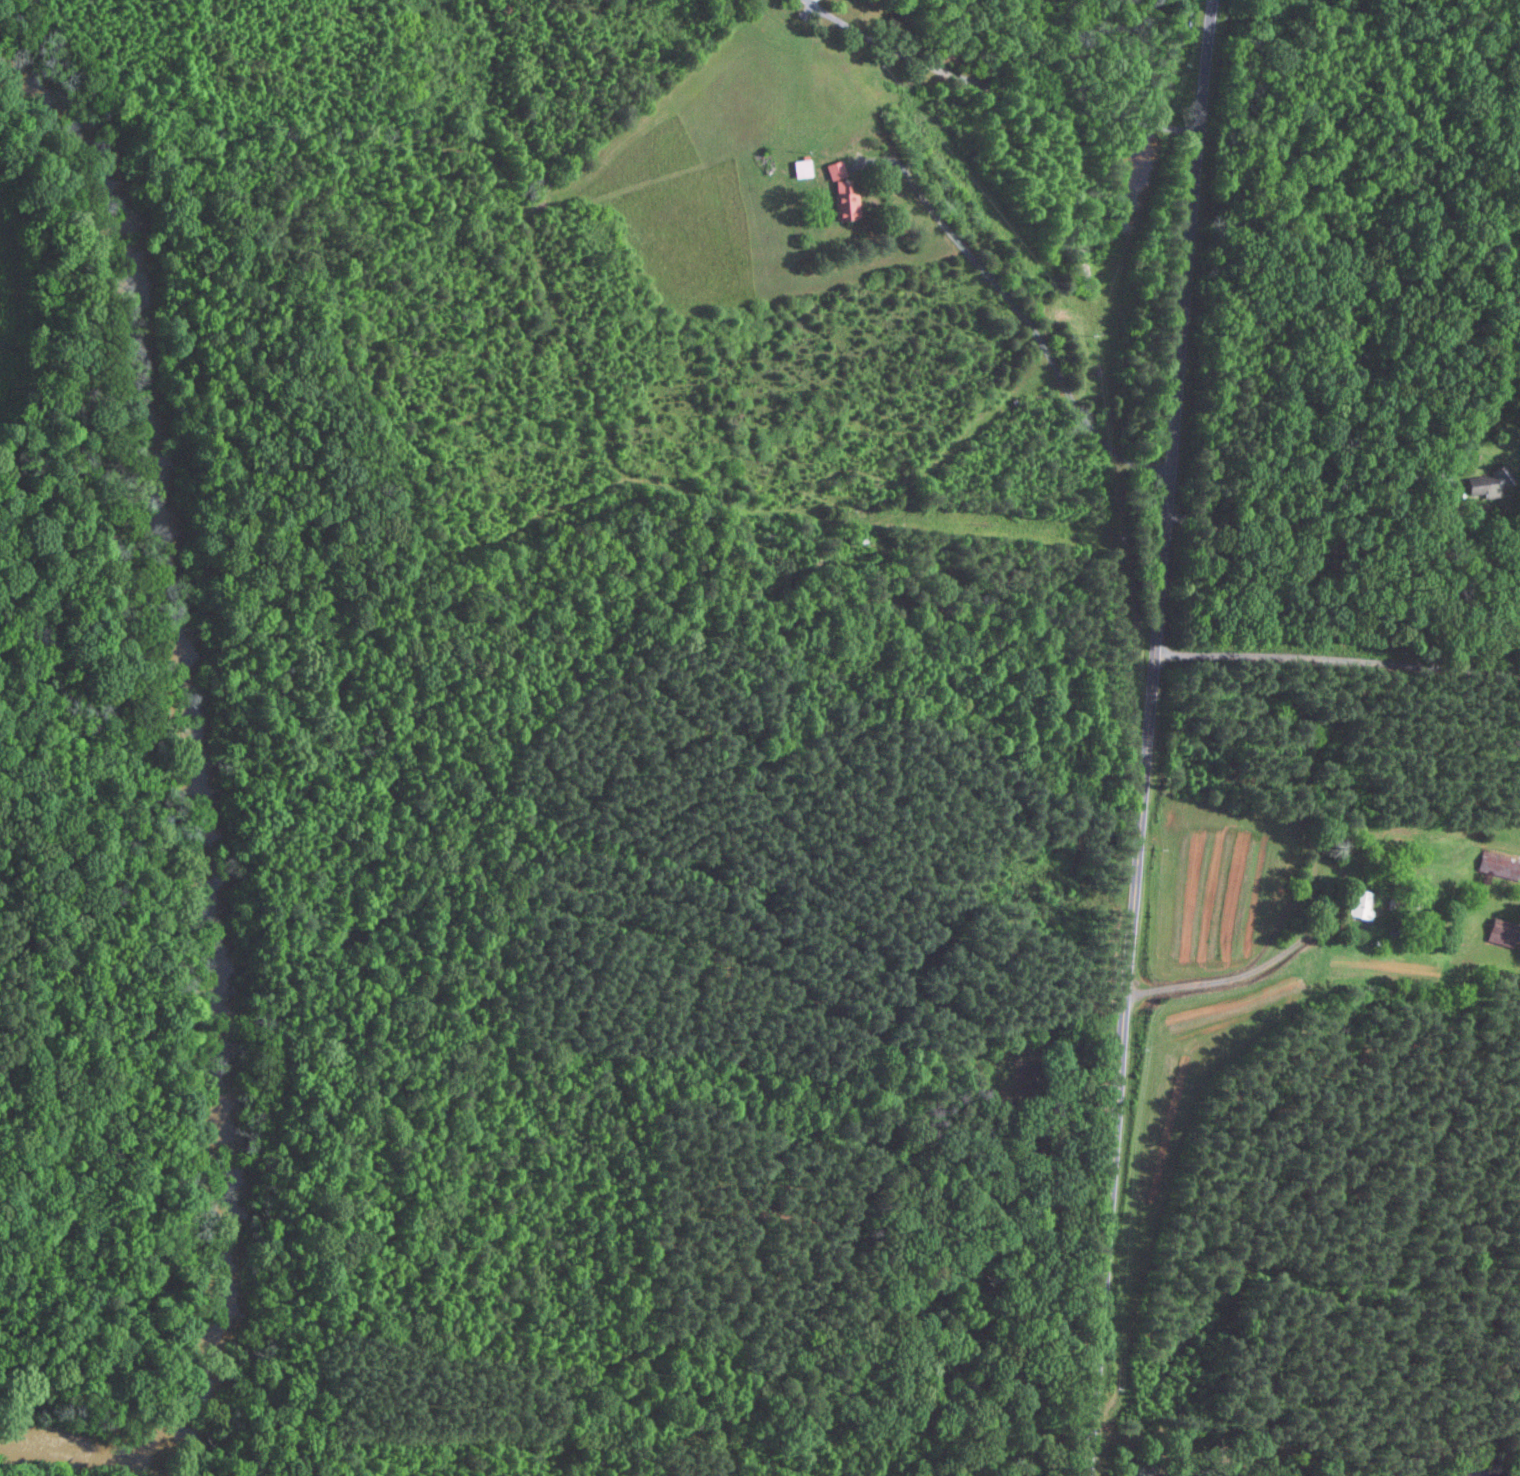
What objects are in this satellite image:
road: (995, 86)
building: (844, 198)
road: (948, 253)
road: (1312, 513)
road: (1337, 658)
road: (1148, 738)
river: (206, 810)
building: (1356, 903)
building: (1498, 932)
road: (1228, 977)

